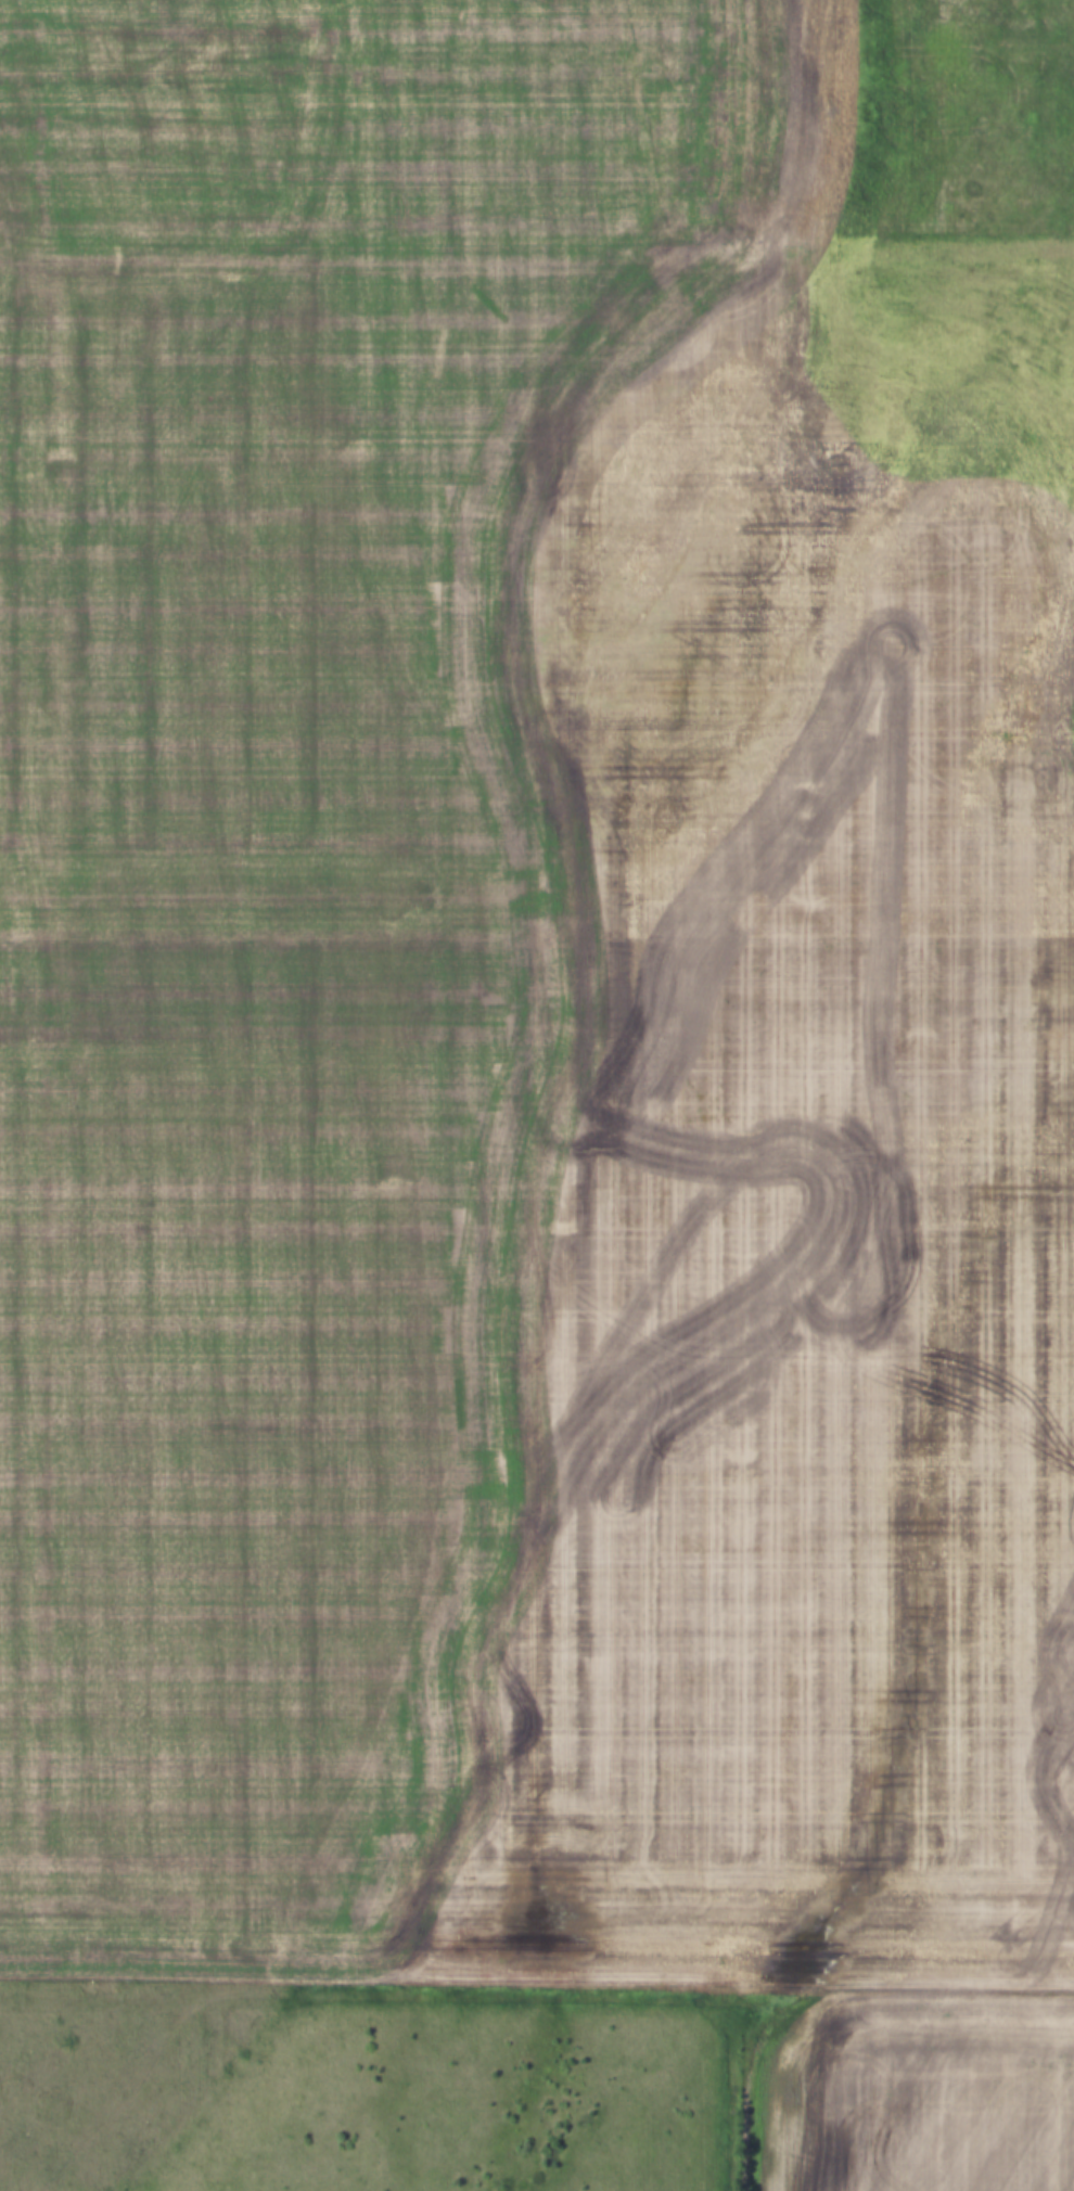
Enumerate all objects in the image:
road: (536, 1993)

